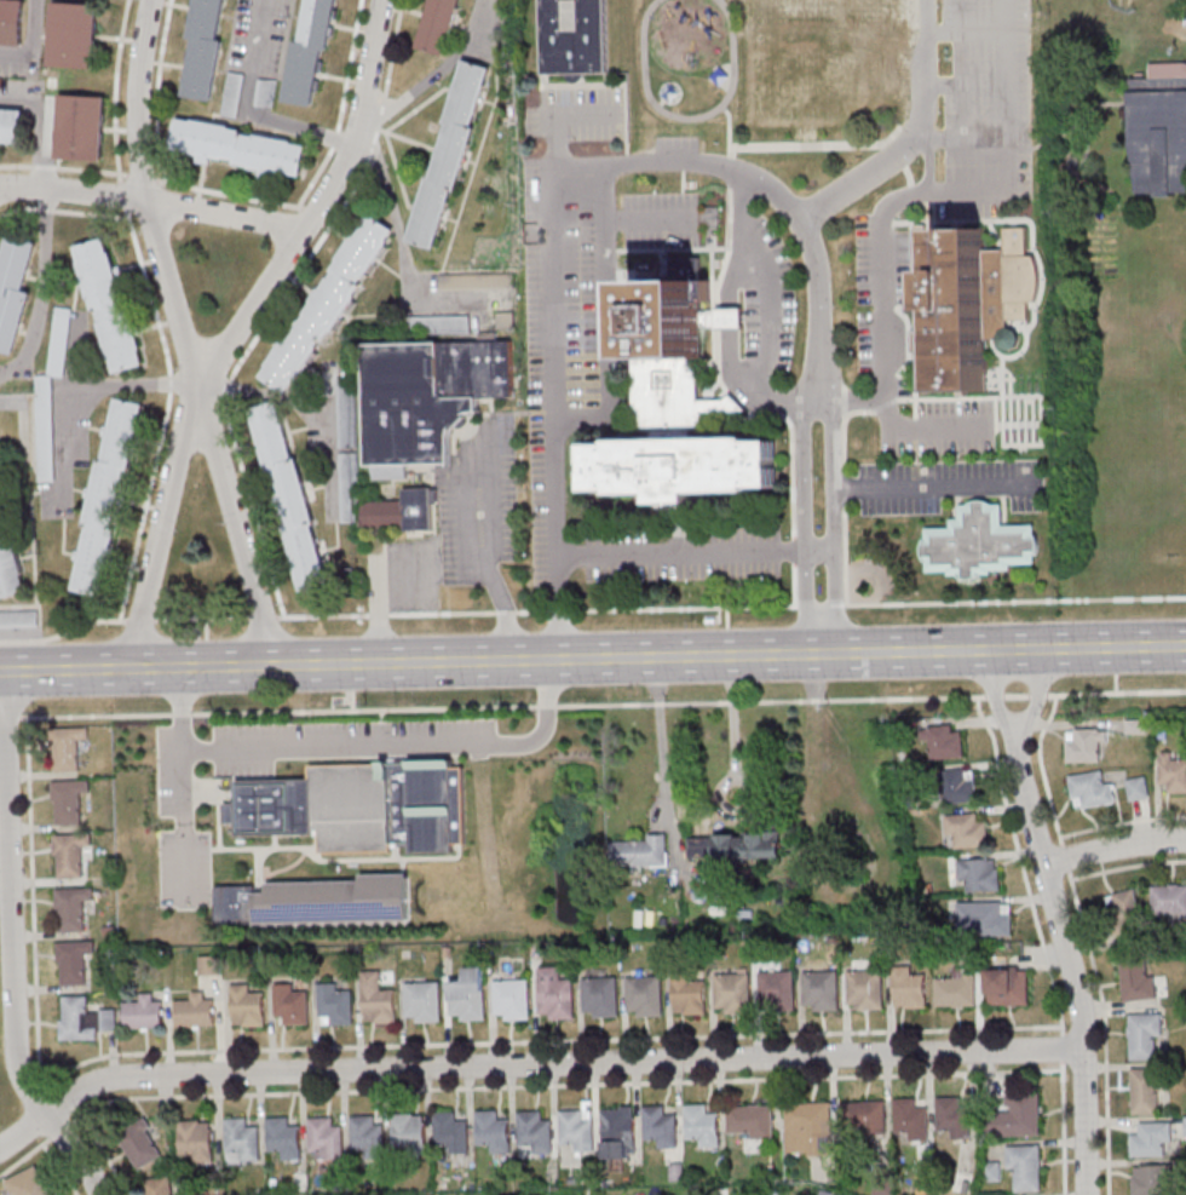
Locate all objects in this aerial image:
park: (1129, 2)
building: (12, 22)
building: (442, 25)
building: (74, 34)
building: (574, 35)
road: (30, 42)
building: (205, 48)
building: (310, 52)
road: (257, 54)
building: (821, 58)
road: (438, 70)
building: (719, 75)
building: (669, 91)
building: (265, 92)
building: (232, 94)
road: (139, 97)
road: (689, 117)
building: (12, 125)
road: (296, 125)
building: (81, 126)
road: (39, 127)
building: (1159, 128)
road: (730, 134)
road: (906, 137)
road: (818, 143)
building: (240, 148)
building: (450, 155)
road: (927, 156)
road: (73, 190)
road: (543, 193)
road: (226, 209)
road: (313, 209)
road: (403, 251)
road: (882, 277)
road: (41, 288)
building: (15, 291)
road: (173, 297)
building: (329, 304)
building: (109, 306)
building: (966, 308)
road: (767, 317)
building: (670, 356)
road: (70, 383)
building: (426, 397)
road: (921, 430)
building: (681, 466)
building: (47, 472)
road: (932, 484)
building: (290, 496)
building: (109, 498)
building: (399, 512)
road: (793, 515)
road: (834, 515)
road: (806, 516)
road: (257, 517)
road: (235, 533)
road: (165, 534)
building: (980, 542)
road: (821, 546)
road: (679, 551)
road: (845, 553)
road: (485, 555)
building: (8, 556)
road: (376, 591)
road: (1015, 601)
road: (536, 610)
road: (727, 616)
road: (727, 642)
road: (592, 659)
road: (1115, 691)
road: (995, 695)
road: (1034, 695)
road: (523, 706)
road: (731, 724)
road: (661, 730)
building: (945, 742)
building: (1086, 745)
building: (69, 747)
road: (359, 747)
road: (1042, 769)
building: (1171, 772)
building: (961, 787)
building: (1136, 787)
building: (1092, 789)
building: (69, 800)
building: (361, 805)
road: (1122, 822)
road: (182, 828)
building: (967, 832)
building: (736, 848)
road: (1116, 849)
building: (70, 854)
building: (638, 854)
road: (1065, 858)
road: (1020, 864)
road: (1128, 866)
building: (978, 874)
building: (317, 901)
building: (1125, 901)
building: (1169, 901)
building: (73, 907)
building: (984, 917)
road: (12, 946)
building: (74, 961)
building: (209, 964)
road: (1072, 964)
building: (1138, 979)
building: (1007, 986)
building: (908, 989)
building: (777, 990)
building: (957, 990)
building: (821, 992)
building: (865, 992)
building: (732, 994)
building: (468, 995)
building: (554, 995)
building: (644, 996)
building: (689, 996)
building: (600, 998)
building: (378, 999)
building: (512, 999)
building: (422, 1001)
building: (334, 1004)
building: (290, 1005)
building: (247, 1006)
building: (195, 1011)
building: (145, 1012)
building: (84, 1018)
road: (1104, 1030)
building: (1144, 1034)
road: (367, 1046)
road: (1061, 1047)
road: (531, 1063)
road: (517, 1086)
building: (1145, 1091)
building: (1018, 1115)
building: (864, 1118)
building: (952, 1118)
building: (750, 1120)
building: (910, 1120)
building: (701, 1125)
building: (661, 1127)
road: (1063, 1127)
building: (808, 1128)
building: (576, 1131)
building: (409, 1132)
building: (493, 1132)
road: (92, 1133)
building: (451, 1133)
building: (535, 1133)
building: (617, 1134)
building: (368, 1137)
building: (284, 1138)
building: (1151, 1139)
building: (196, 1141)
building: (242, 1141)
building: (326, 1141)
building: (140, 1144)
building: (1025, 1165)
road: (61, 1168)
building: (991, 1171)
building: (1151, 1179)
building: (28, 1183)
building: (160, 1187)

